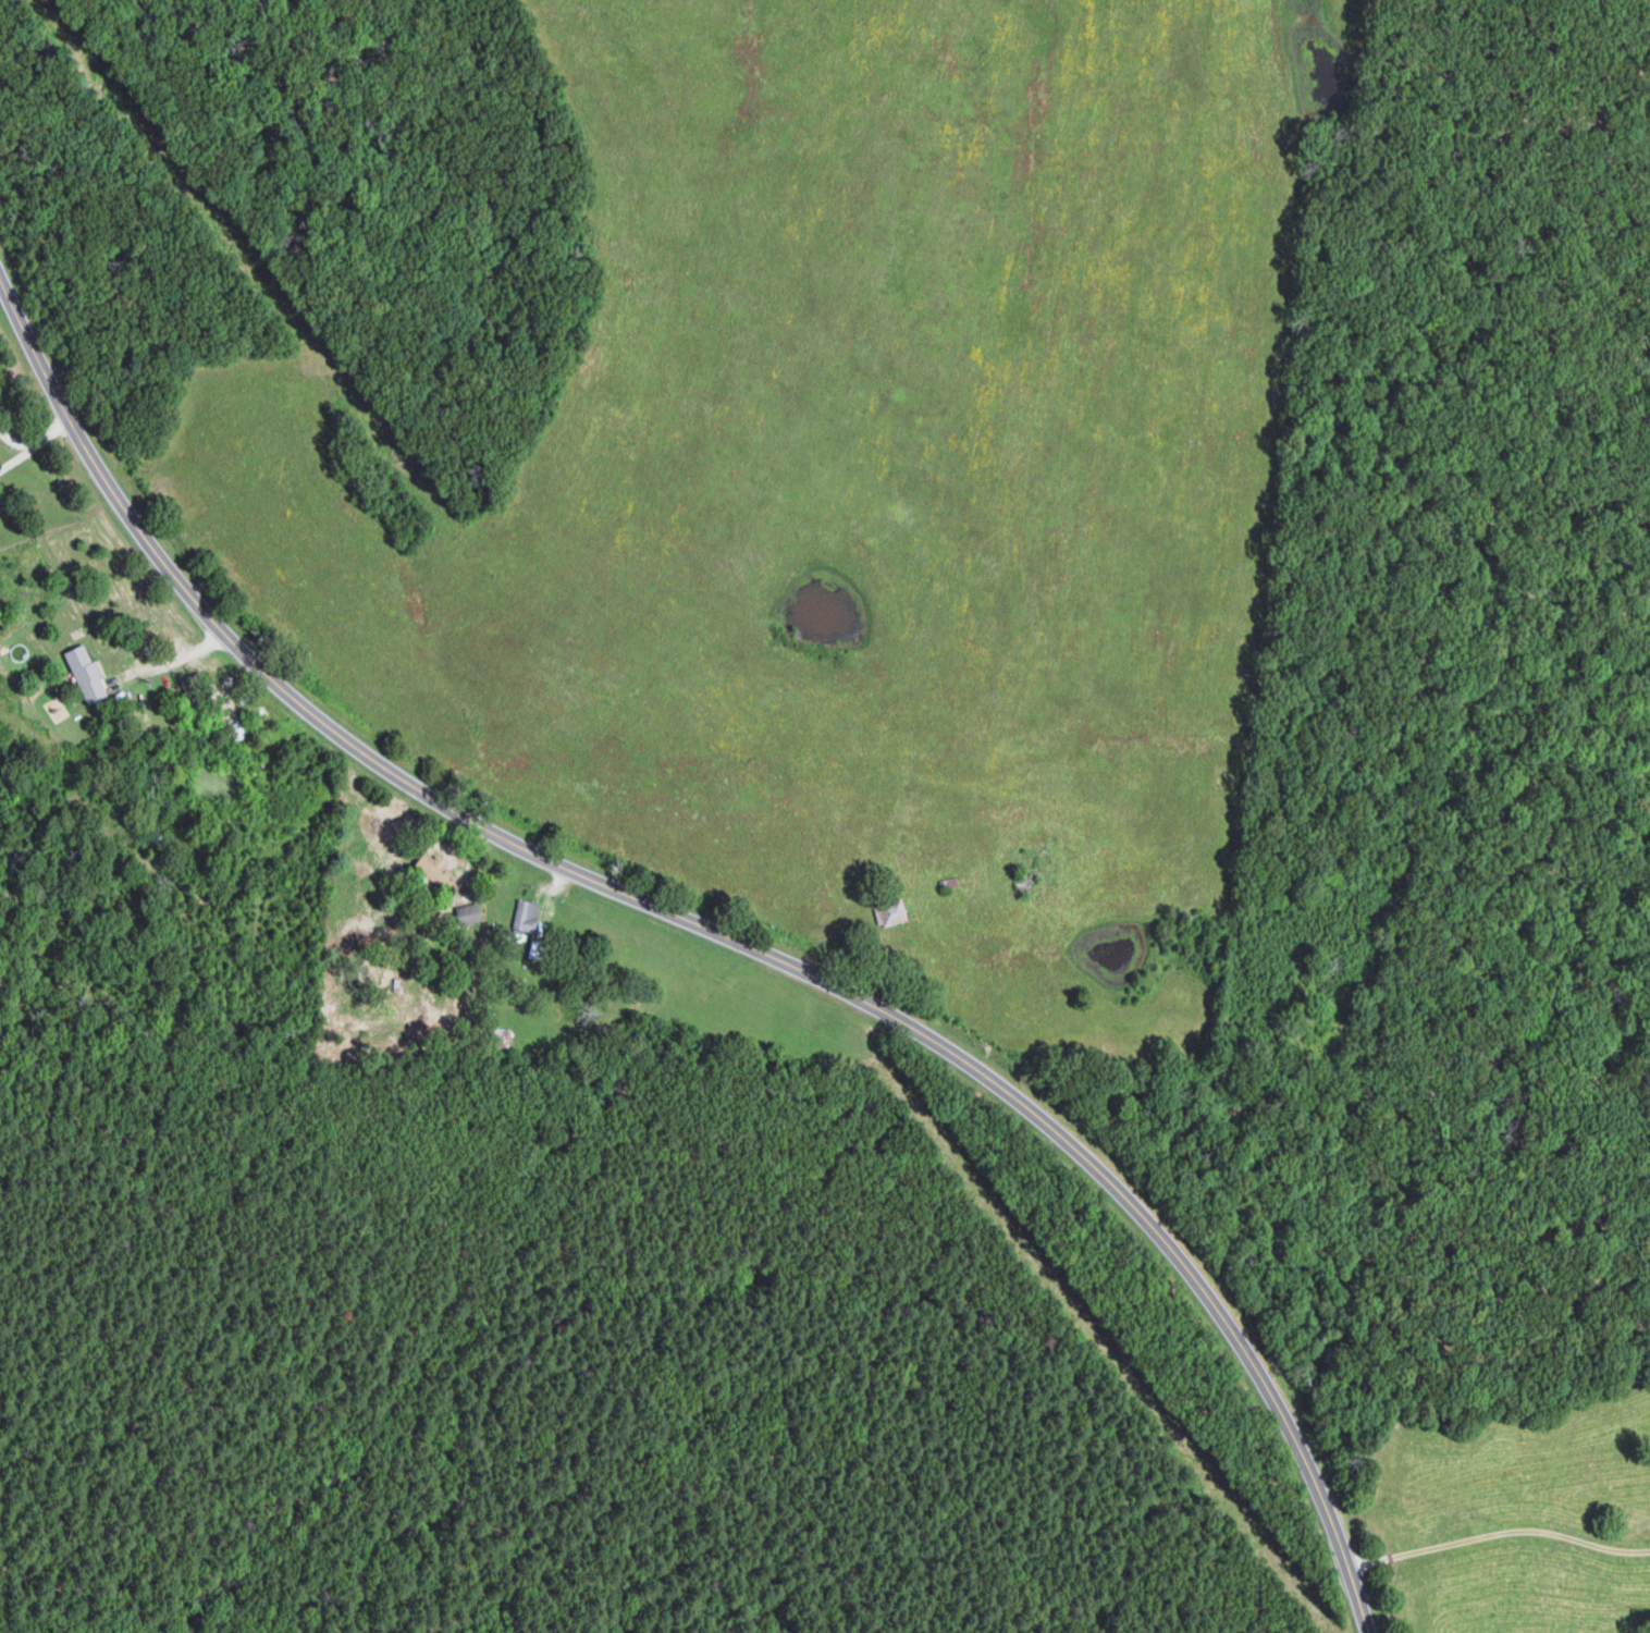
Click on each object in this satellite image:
building: (89, 672)
building: (436, 868)
building: (896, 912)
building: (529, 914)
road: (712, 933)

